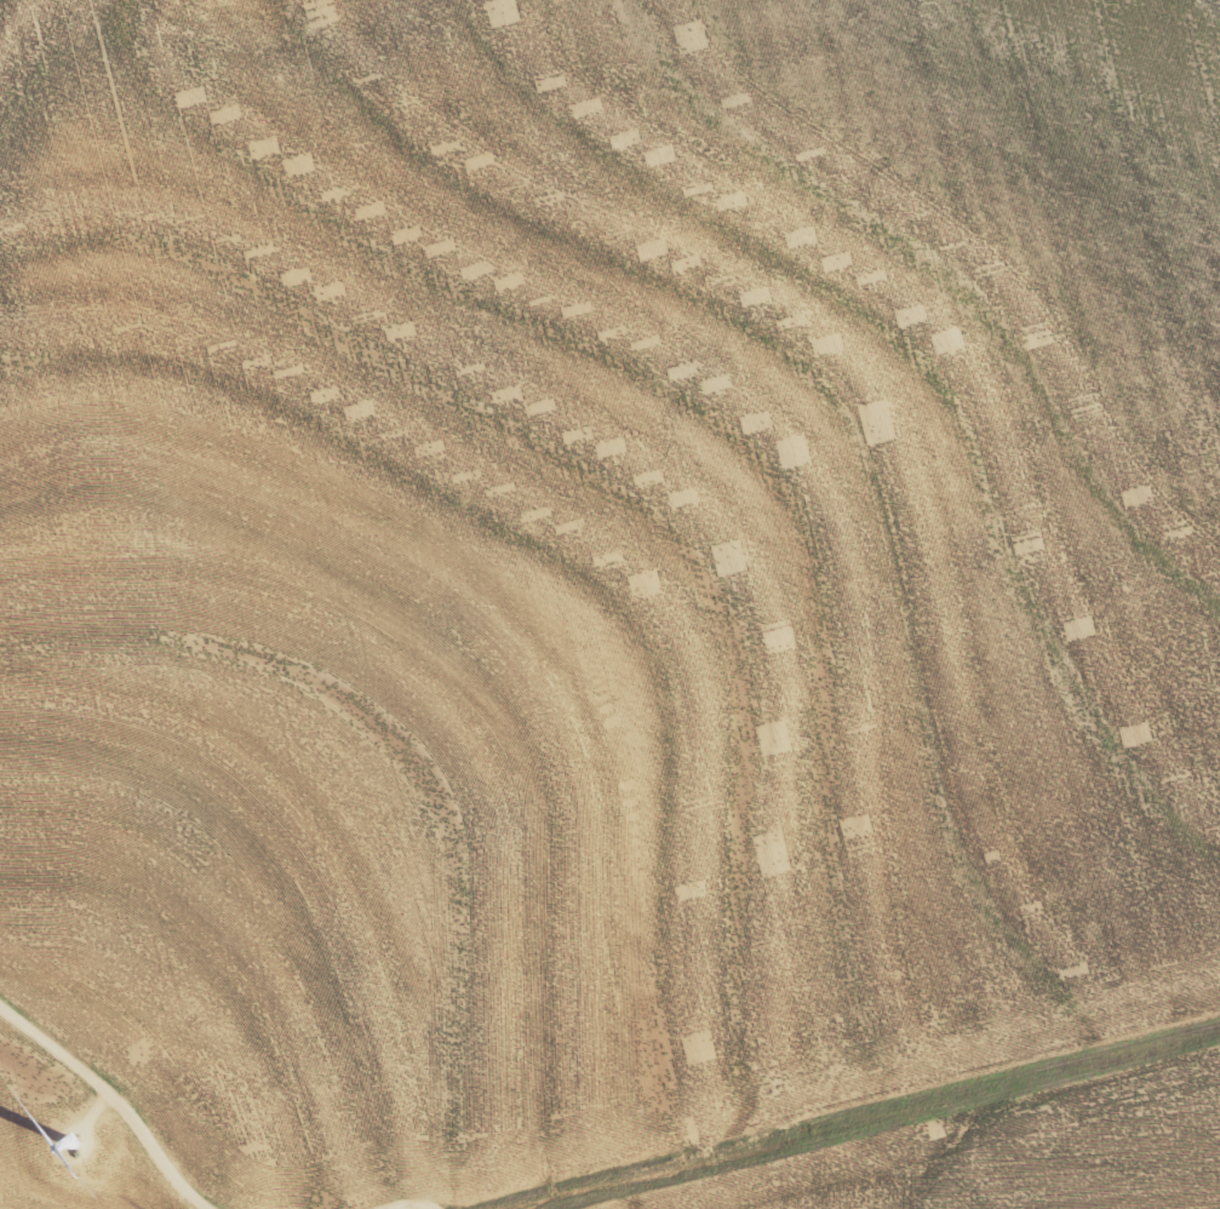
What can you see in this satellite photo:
road: (114, 1098)
wind turbine: (62, 1127)
road: (409, 1204)

